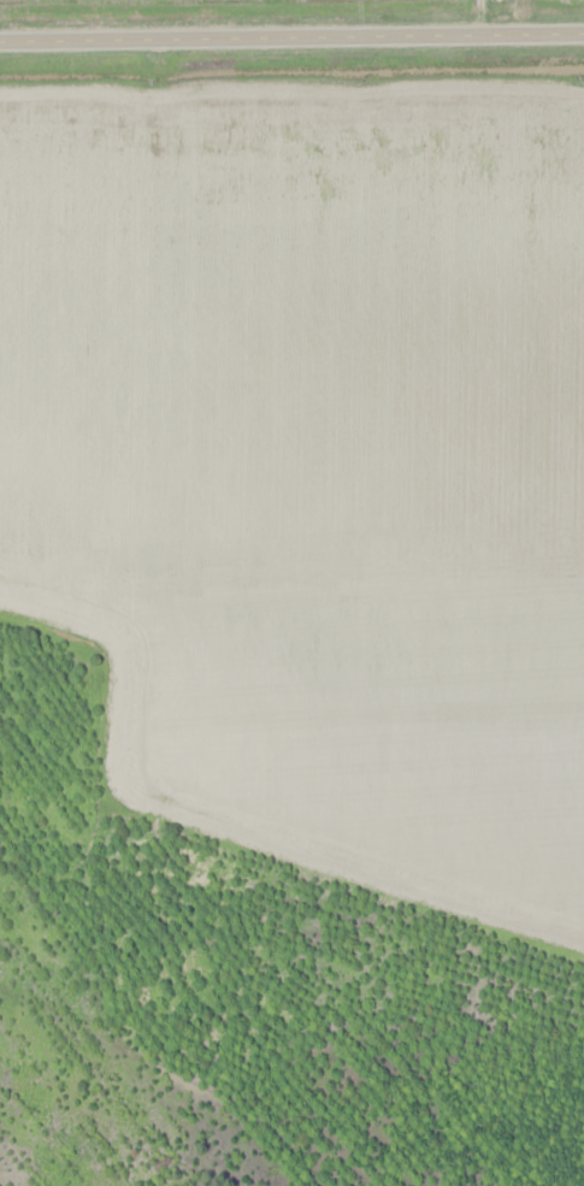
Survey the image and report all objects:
road: (291, 35)
road: (96, 633)

